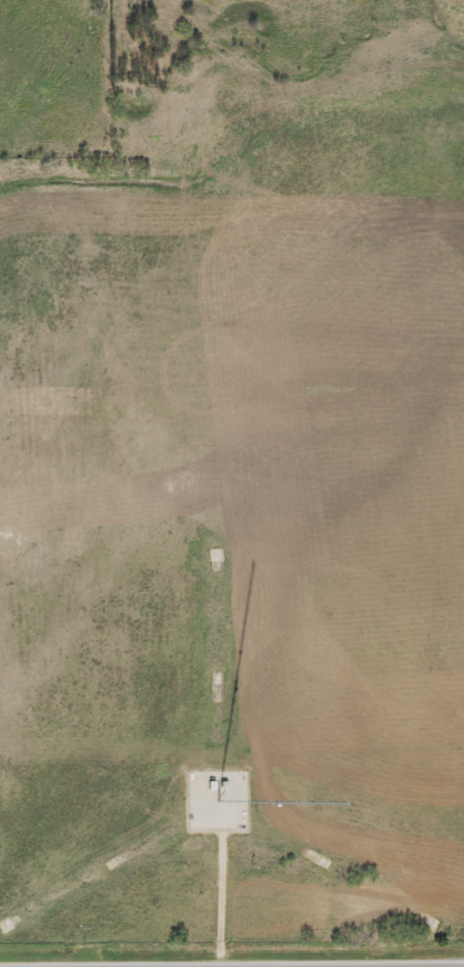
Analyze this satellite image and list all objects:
road: (231, 966)

